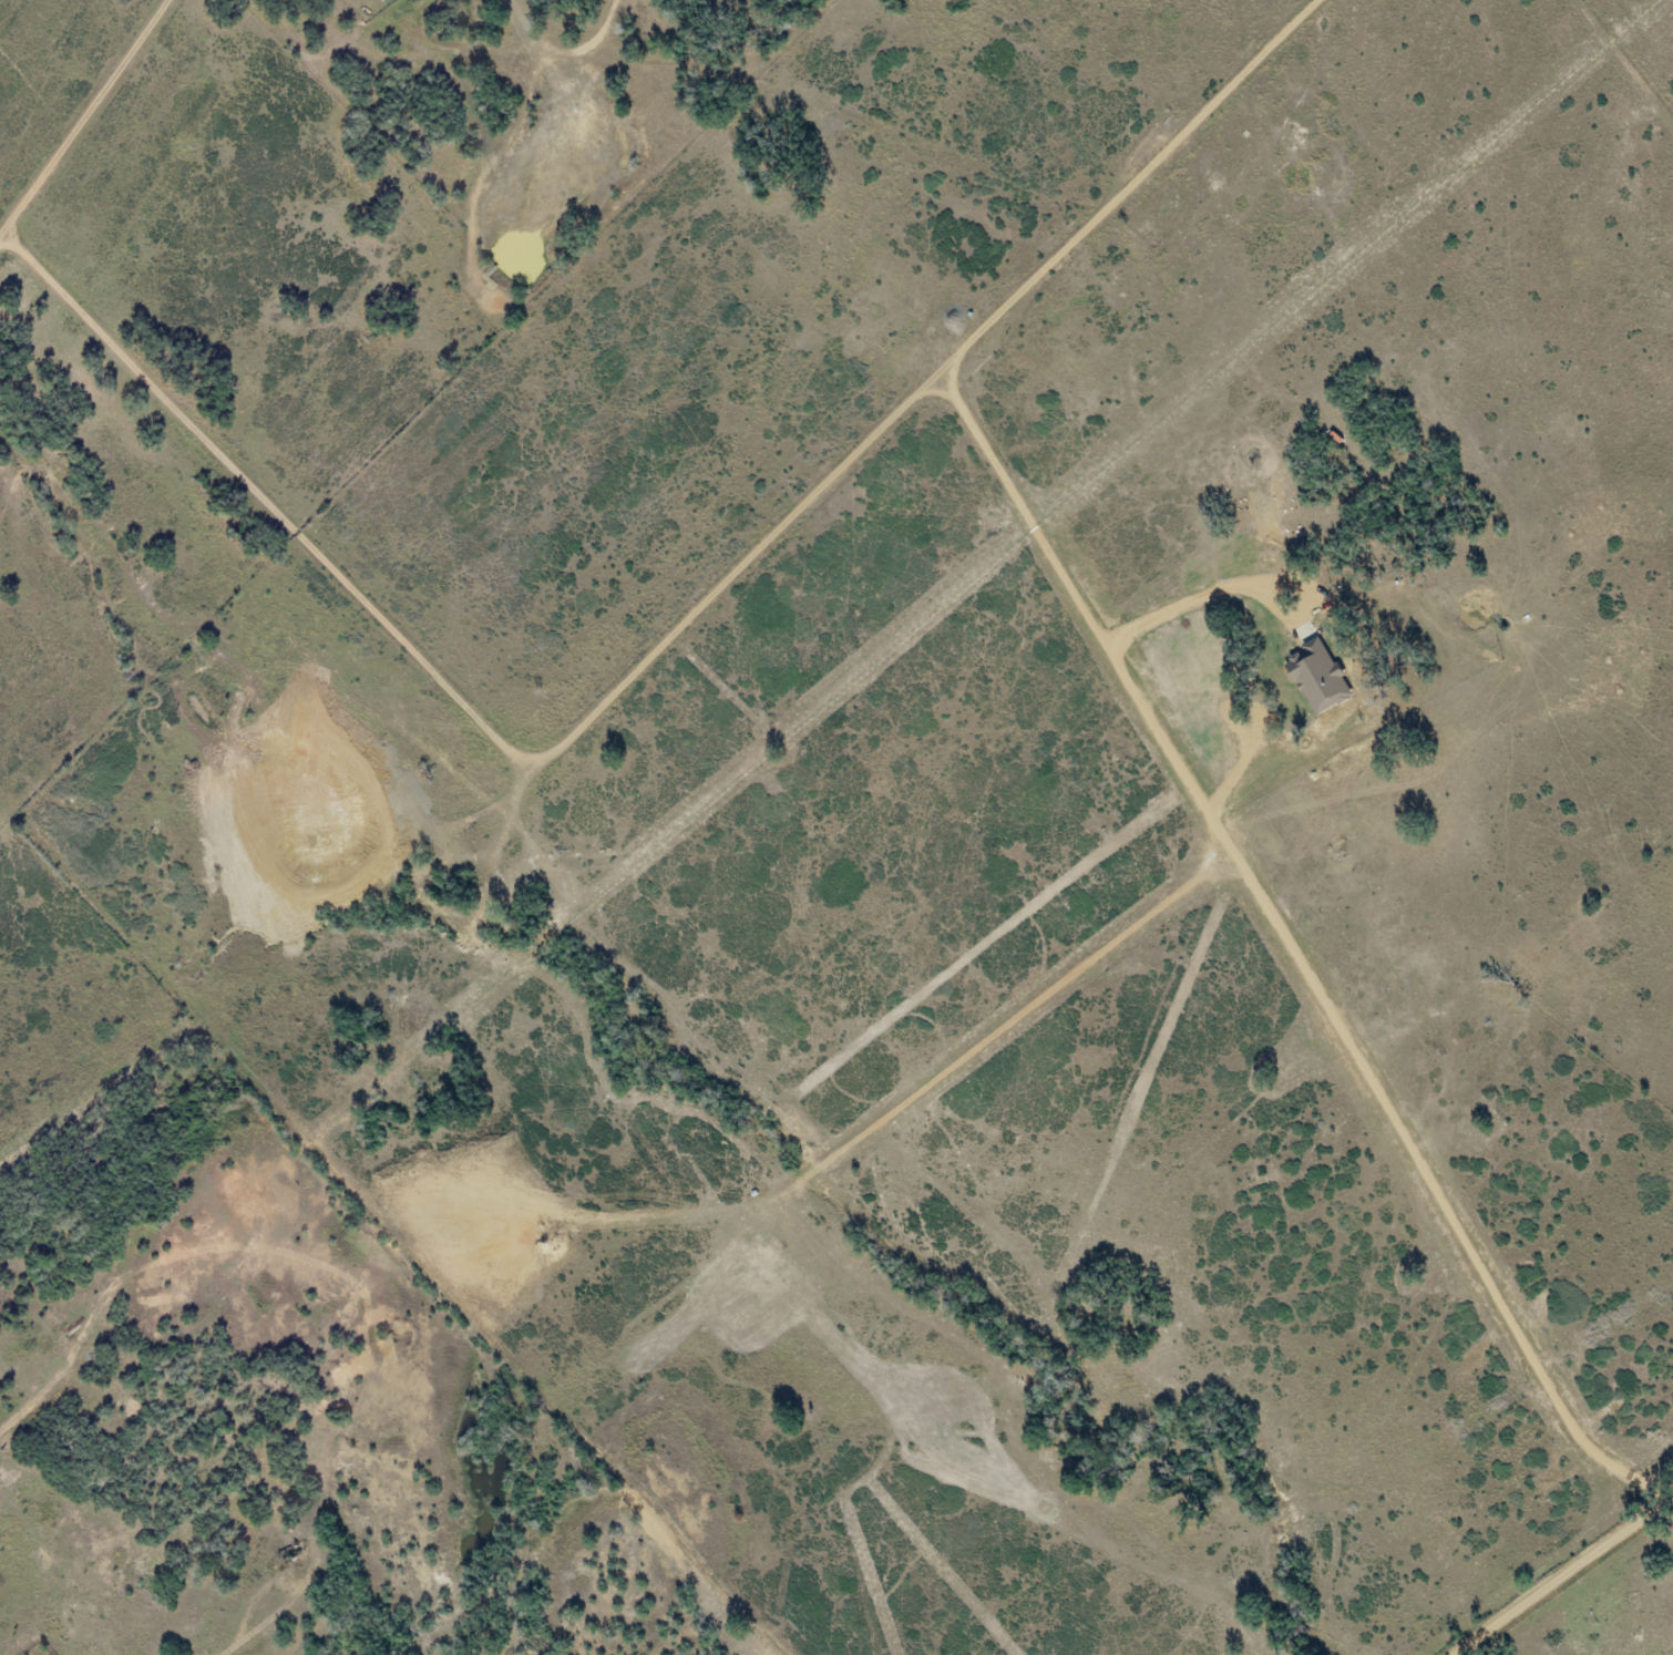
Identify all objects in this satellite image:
road: (1561, 1573)

